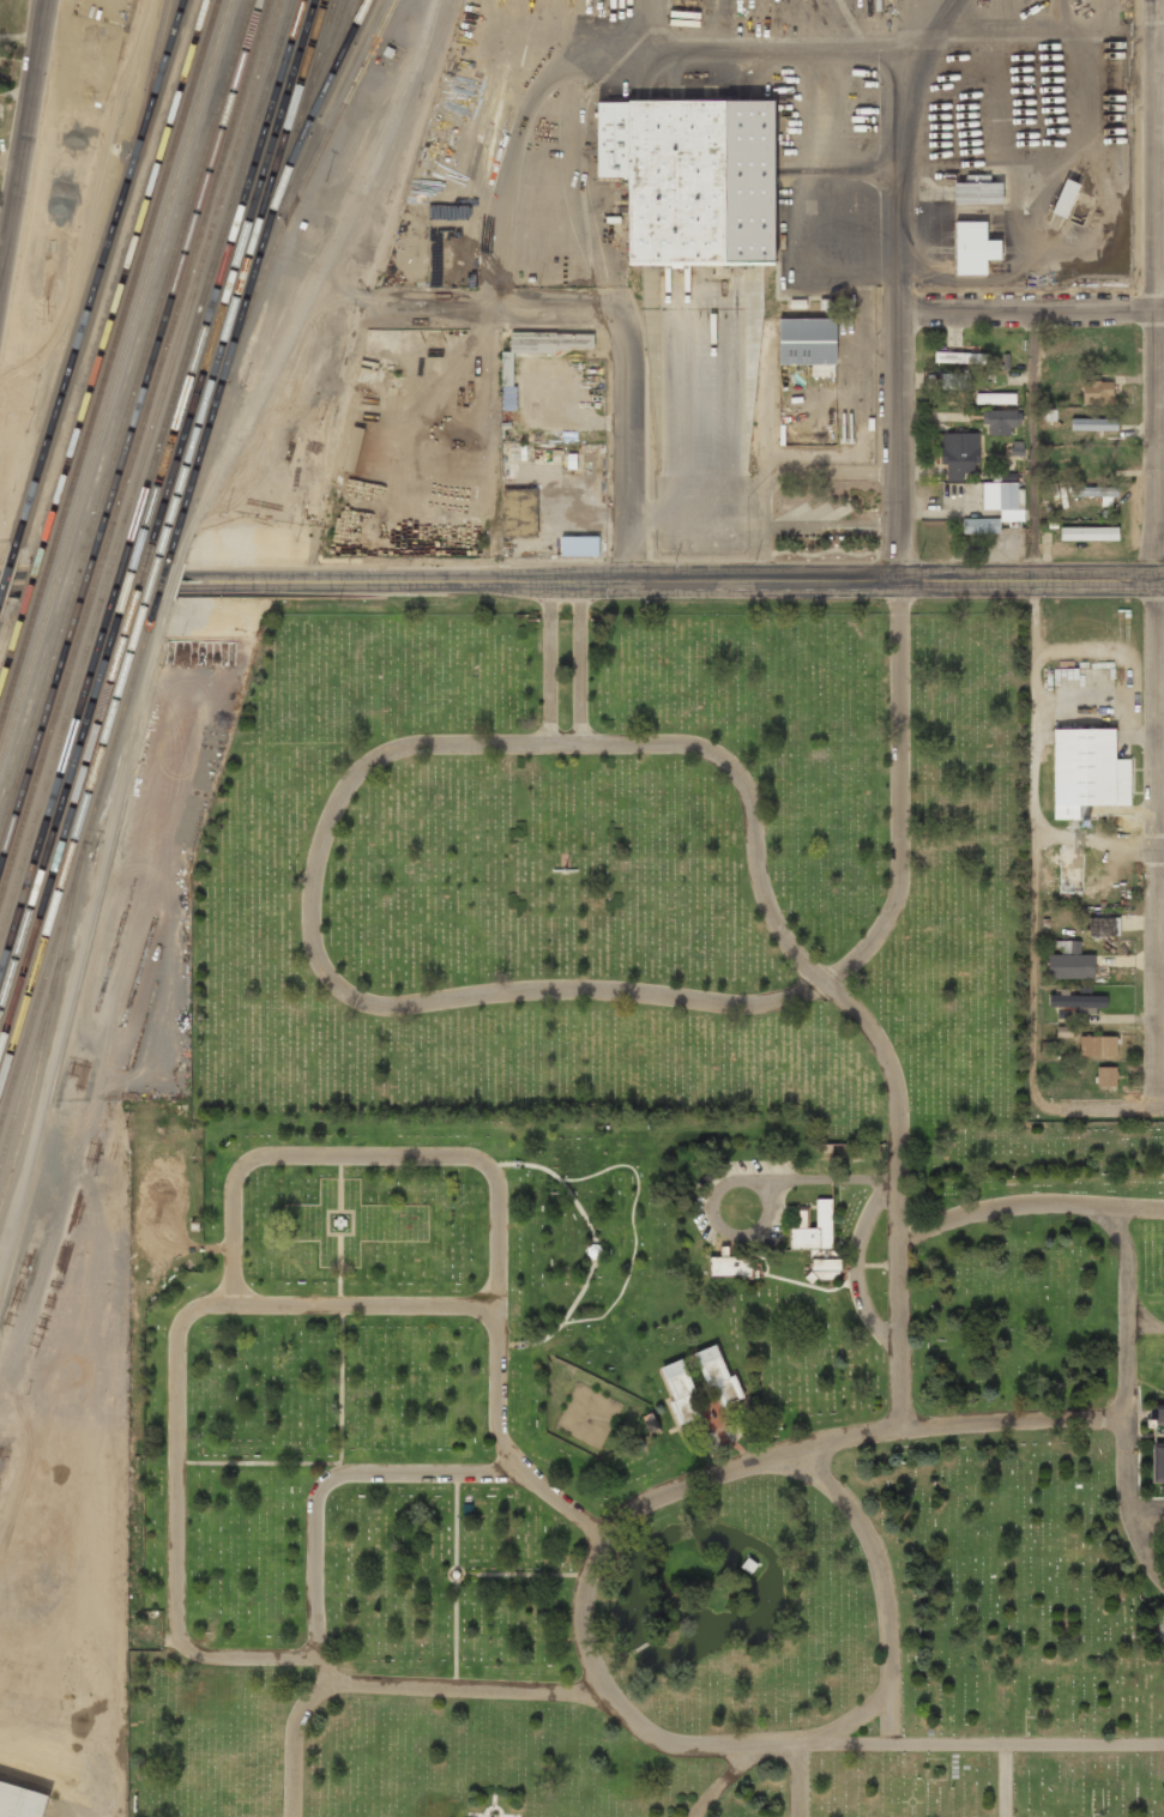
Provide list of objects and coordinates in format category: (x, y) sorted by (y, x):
railway: (360, 17)
road: (1160, 38)
railway: (344, 48)
road: (768, 52)
railway: (310, 70)
railway: (313, 95)
railway: (292, 103)
road: (23, 135)
road: (569, 144)
railway: (270, 146)
road: (897, 147)
railway: (251, 179)
building: (692, 179)
building: (977, 192)
building: (1065, 198)
railway: (229, 211)
building: (973, 247)
railway: (99, 272)
railway: (125, 274)
railway: (135, 274)
railway: (146, 277)
railway: (167, 277)
railway: (156, 278)
railway: (175, 278)
railway: (258, 278)
railway: (187, 279)
railway: (195, 279)
railway: (233, 279)
road: (494, 307)
road: (1031, 307)
building: (807, 340)
building: (542, 346)
building: (960, 357)
building: (954, 380)
building: (1097, 392)
building: (995, 398)
building: (1001, 421)
building: (1093, 424)
road: (895, 442)
road: (628, 447)
building: (352, 448)
building: (958, 454)
building: (1096, 493)
building: (1003, 499)
building: (519, 511)
building: (981, 525)
building: (1088, 532)
building: (578, 545)
road: (1157, 553)
railway: (8, 573)
road: (12, 579)
road: (671, 579)
railway: (96, 581)
railway: (43, 584)
railway: (105, 584)
railway: (64, 585)
railway: (32, 586)
railway: (54, 586)
railway: (74, 586)
railway: (83, 586)
railway: (117, 586)
railway: (128, 586)
railway: (11, 658)
road: (548, 660)
road: (580, 660)
railway: (17, 674)
railway: (23, 693)
railway: (28, 706)
road: (1035, 707)
railway: (32, 725)
railway: (37, 740)
railway: (44, 753)
railway: (49, 771)
building: (1087, 771)
railway: (55, 792)
building: (1093, 811)
railway: (55, 828)
road: (1099, 841)
railway: (48, 891)
railway: (65, 907)
building: (1103, 925)
railway: (41, 948)
building: (1069, 961)
road: (366, 1000)
building: (1078, 1001)
railway: (34, 1018)
building: (1097, 1045)
building: (1106, 1076)
railway: (25, 1080)
road: (1100, 1106)
building: (800, 1219)
building: (814, 1229)
park: (643, 1250)
building: (729, 1266)
building: (718, 1376)
building: (681, 1392)
building: (1158, 1415)
building: (1158, 1462)
building: (18, 1800)

